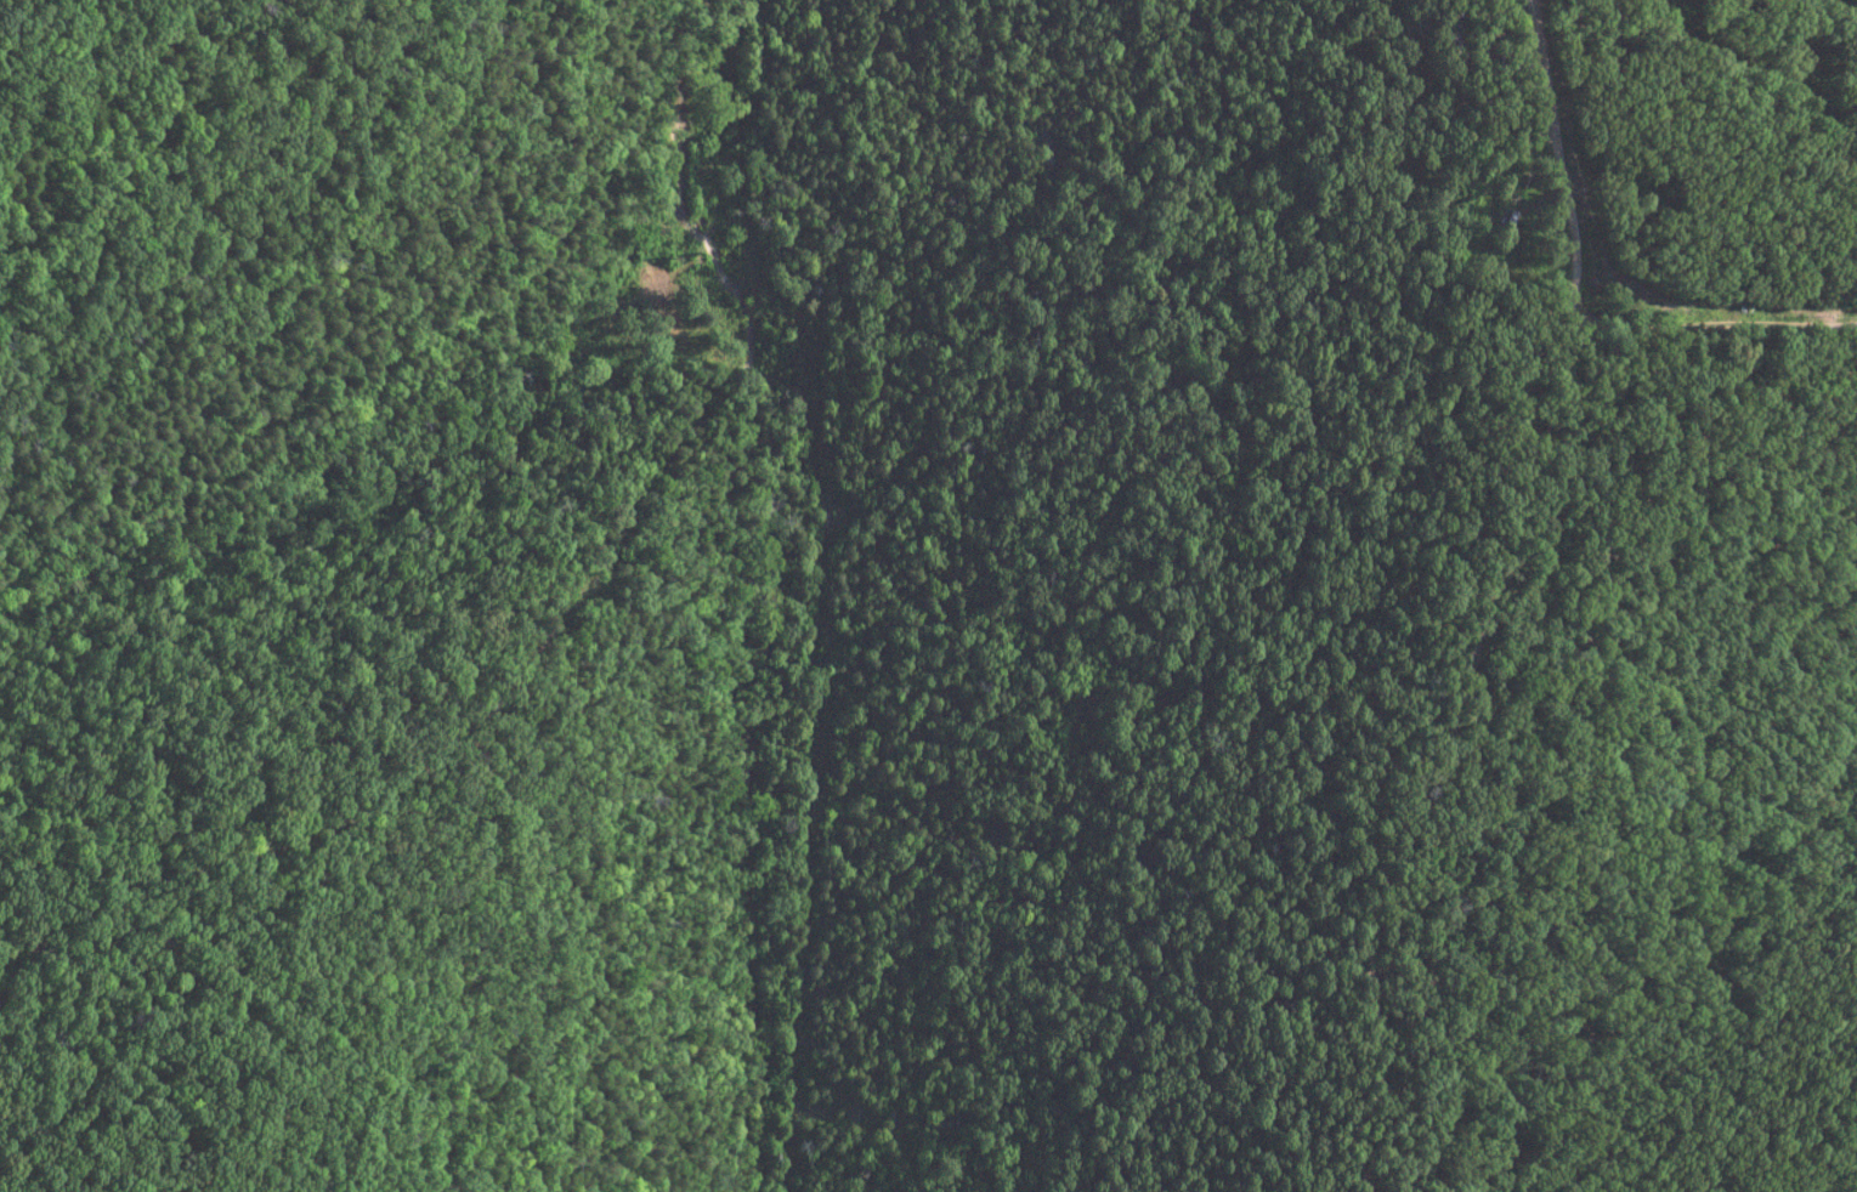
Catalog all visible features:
road: (1559, 157)
road: (1712, 325)

